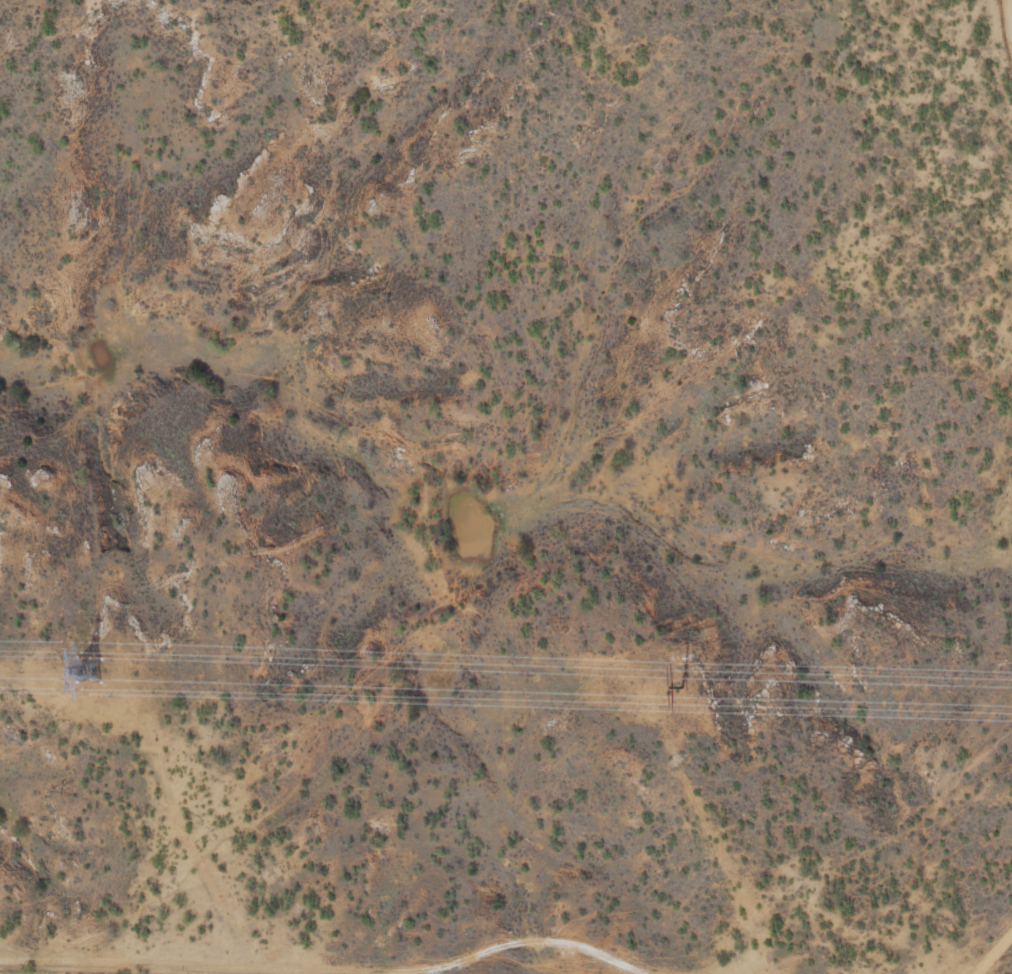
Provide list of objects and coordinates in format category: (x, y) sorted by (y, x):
road: (1010, 9)
power tower: (90, 669)
power tower: (681, 686)
road: (993, 949)

